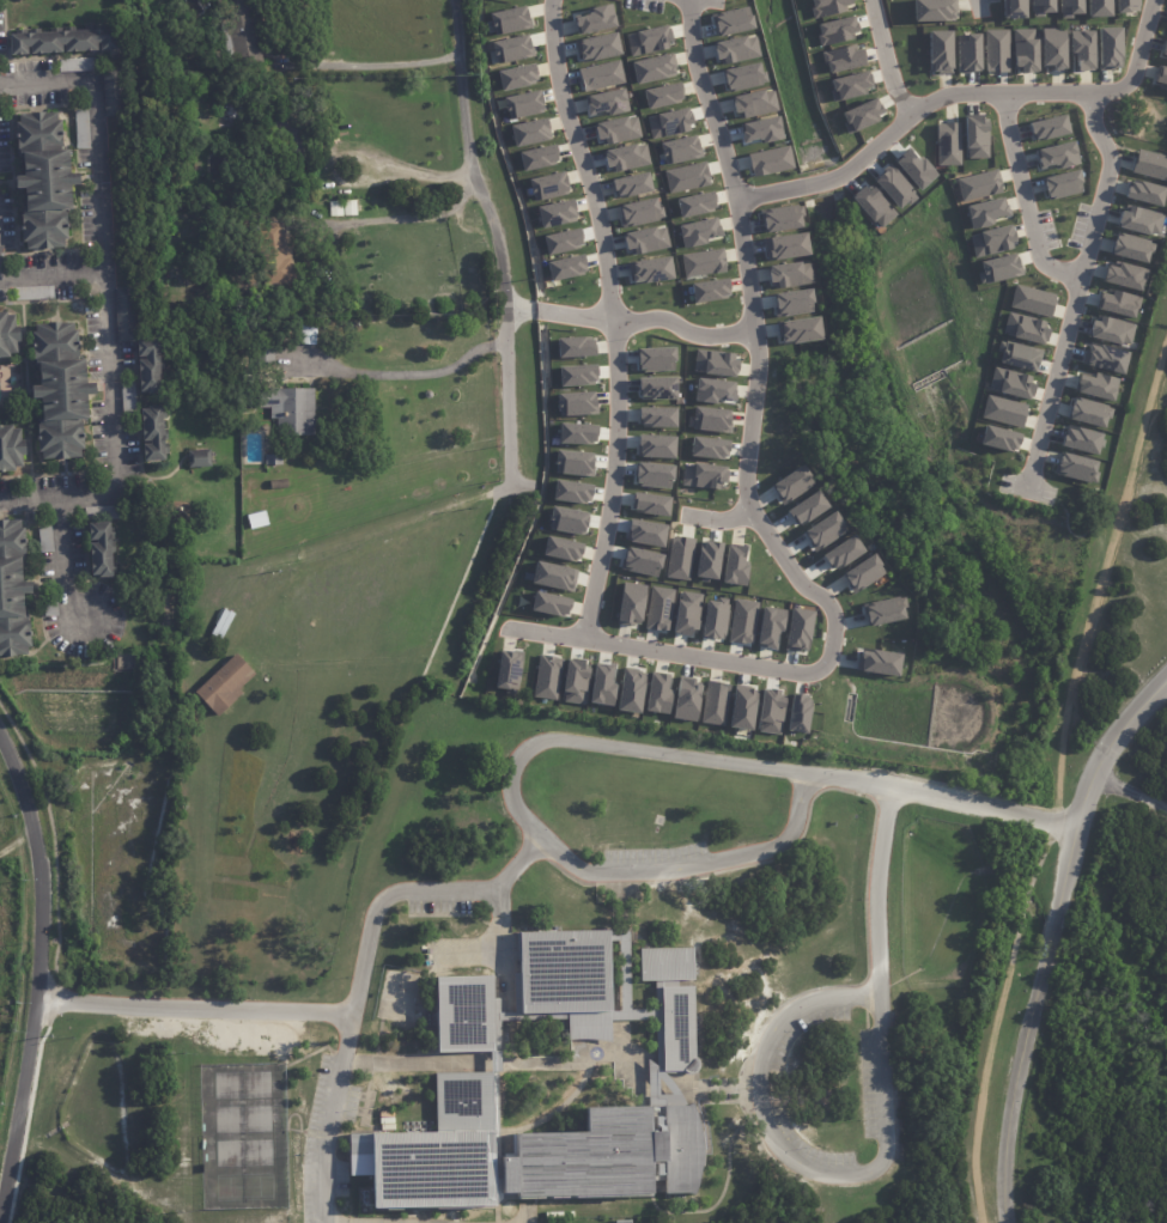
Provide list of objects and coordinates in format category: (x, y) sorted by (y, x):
road: (980, 4)
building: (1125, 5)
building: (826, 7)
building: (1040, 7)
building: (1069, 7)
building: (1096, 7)
building: (1010, 8)
building: (932, 10)
building: (595, 19)
building: (509, 20)
building: (730, 20)
building: (1166, 22)
building: (835, 30)
building: (242, 32)
building: (648, 39)
building: (65, 43)
building: (596, 47)
building: (1163, 47)
building: (1052, 48)
building: (1107, 48)
building: (511, 49)
building: (735, 49)
building: (1081, 49)
building: (996, 50)
building: (1023, 50)
building: (938, 51)
building: (966, 51)
building: (841, 59)
building: (1166, 59)
road: (886, 60)
road: (377, 63)
building: (77, 65)
building: (652, 68)
building: (600, 75)
building: (516, 77)
building: (742, 77)
building: (1161, 78)
building: (849, 85)
building: (113, 93)
building: (661, 95)
road: (1017, 96)
building: (606, 102)
building: (752, 103)
building: (522, 104)
building: (202, 110)
building: (859, 115)
building: (668, 123)
building: (1047, 127)
building: (81, 128)
building: (616, 130)
building: (760, 130)
building: (296, 132)
building: (529, 132)
building: (974, 136)
building: (947, 144)
building: (679, 150)
building: (1057, 154)
building: (536, 157)
building: (625, 157)
building: (770, 160)
building: (1149, 164)
building: (686, 177)
building: (45, 180)
road: (821, 182)
building: (631, 184)
building: (977, 184)
building: (1060, 184)
building: (547, 185)
road: (768, 193)
building: (1143, 193)
road: (1025, 200)
building: (694, 203)
building: (206, 205)
building: (351, 208)
building: (335, 209)
building: (639, 212)
building: (984, 212)
building: (555, 213)
building: (779, 218)
building: (1138, 220)
building: (697, 231)
building: (644, 239)
building: (561, 241)
building: (991, 241)
road: (497, 242)
building: (784, 247)
building: (1130, 248)
building: (275, 256)
building: (701, 262)
building: (565, 267)
building: (998, 268)
building: (649, 269)
road: (51, 273)
building: (789, 274)
building: (1124, 275)
building: (709, 291)
road: (1077, 291)
building: (35, 292)
road: (103, 298)
building: (1031, 300)
building: (791, 303)
building: (1117, 303)
road: (517, 306)
road: (536, 310)
building: (126, 314)
road: (577, 317)
road: (613, 317)
building: (1023, 328)
building: (797, 329)
building: (1110, 330)
road: (683, 331)
building: (8, 334)
building: (308, 336)
building: (573, 347)
road: (755, 352)
building: (266, 354)
building: (1017, 355)
building: (1104, 357)
building: (713, 363)
building: (151, 365)
road: (409, 372)
building: (576, 375)
building: (1010, 383)
building: (1095, 385)
building: (61, 390)
building: (712, 390)
building: (128, 397)
building: (576, 403)
building: (1003, 410)
building: (292, 412)
building: (1088, 412)
building: (656, 416)
building: (709, 419)
building: (154, 432)
building: (576, 433)
building: (998, 438)
building: (1080, 439)
building: (655, 446)
building: (707, 446)
building: (11, 448)
building: (200, 457)
building: (273, 460)
building: (573, 463)
building: (1075, 468)
building: (652, 474)
building: (701, 475)
building: (791, 483)
building: (278, 485)
building: (571, 491)
building: (649, 504)
building: (806, 507)
building: (104, 512)
road: (719, 519)
building: (257, 521)
building: (566, 521)
building: (645, 533)
building: (45, 539)
building: (103, 548)
building: (560, 548)
building: (841, 552)
building: (679, 558)
building: (706, 560)
building: (734, 564)
building: (862, 573)
building: (553, 576)
building: (13, 590)
building: (630, 603)
building: (549, 604)
building: (657, 608)
building: (50, 609)
building: (883, 609)
building: (686, 613)
road: (61, 617)
building: (713, 619)
building: (742, 621)
building: (768, 626)
building: (797, 629)
road: (661, 651)
building: (876, 662)
building: (507, 671)
building: (546, 677)
building: (573, 681)
building: (225, 684)
building: (601, 684)
building: (630, 690)
building: (657, 693)
building: (686, 699)
building: (713, 702)
building: (797, 712)
road: (1056, 779)
road: (1083, 789)
road: (895, 791)
road: (1129, 793)
road: (1017, 815)
road: (521, 817)
road: (1059, 823)
road: (17, 838)
parking lot: (652, 854)
road: (873, 883)
park: (1092, 890)
parking lot: (438, 905)
road: (1050, 939)
building: (619, 948)
road: (494, 954)
building: (663, 963)
road: (36, 969)
building: (561, 972)
building: (462, 1014)
road: (341, 1015)
building: (675, 1029)
road: (72, 1049)
road: (554, 1061)
parking lot: (867, 1084)
road: (1017, 1087)
road: (496, 1089)
road: (324, 1118)
park: (242, 1136)
parking lot: (324, 1144)
building: (432, 1151)
building: (606, 1155)
road: (804, 1161)
road: (525, 1211)
road: (658, 1211)
building: (618, 1221)
road: (330, 1222)

